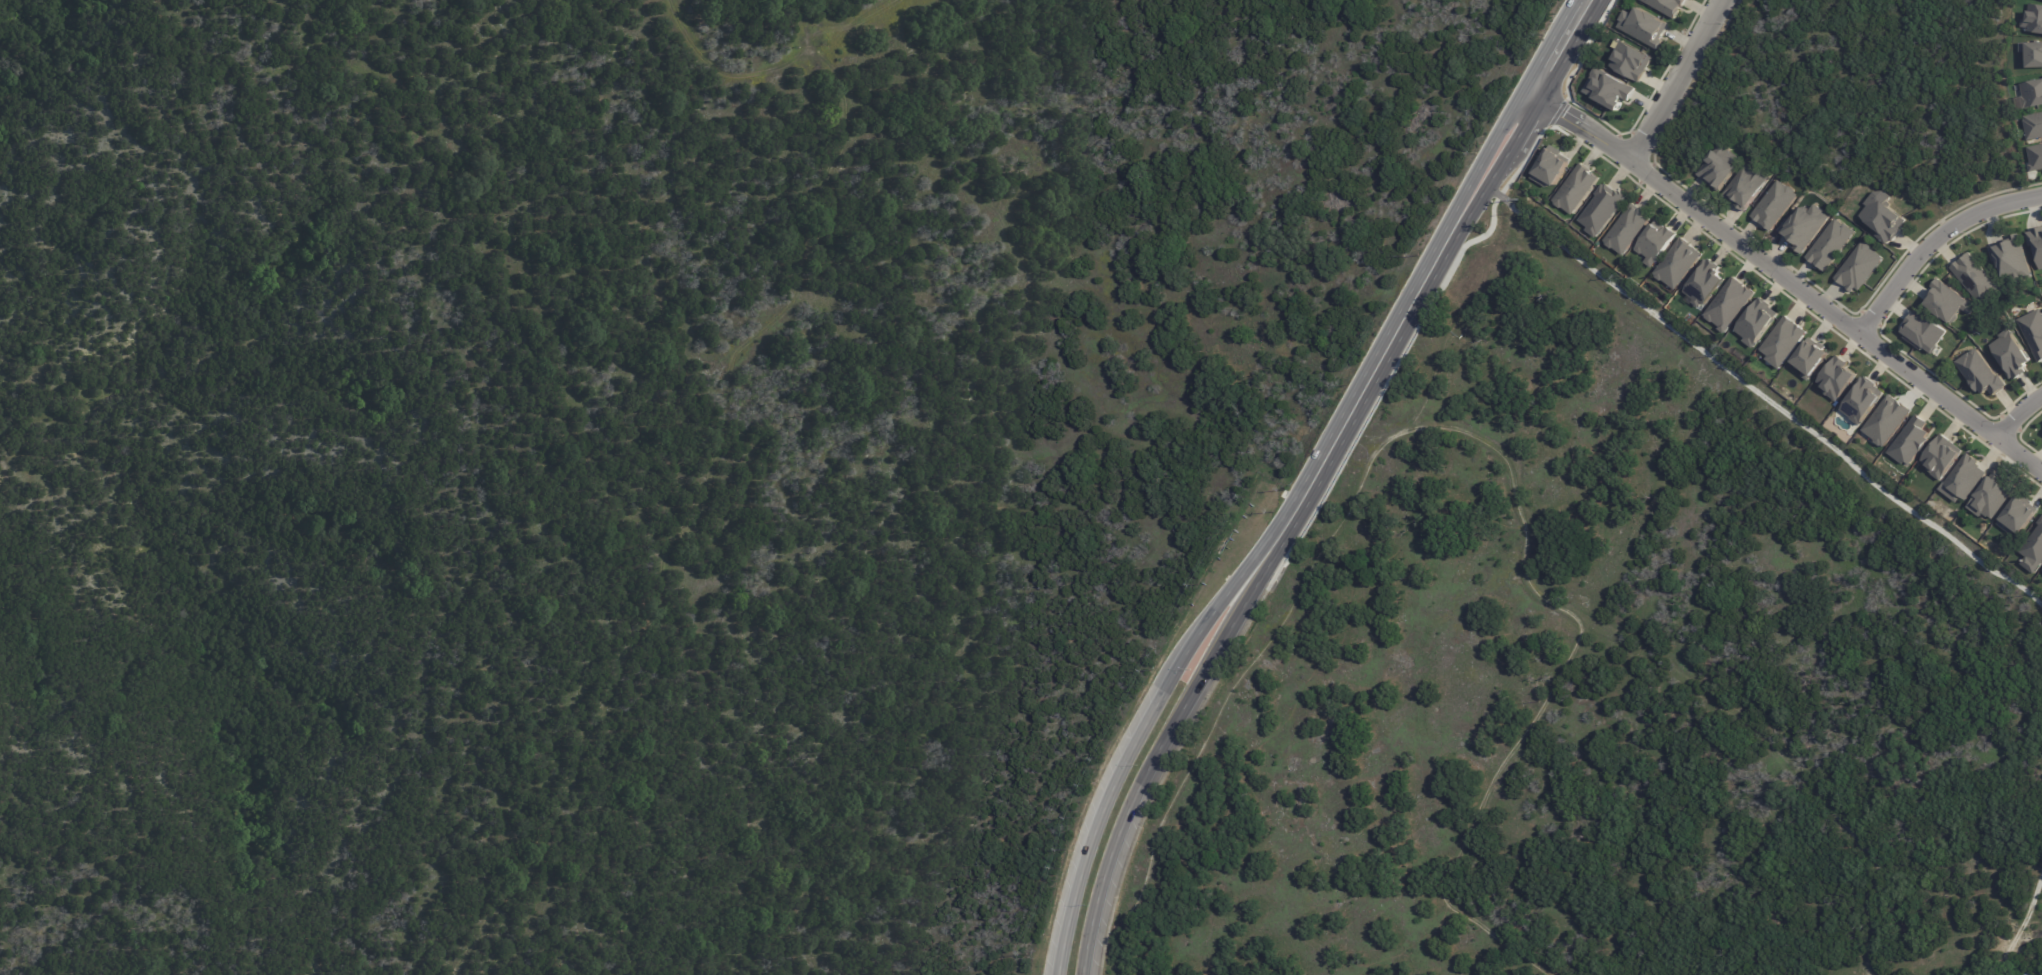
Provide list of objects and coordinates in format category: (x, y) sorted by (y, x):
building: (1667, 5)
building: (2033, 18)
building: (1643, 26)
building: (2032, 53)
building: (1630, 60)
road: (1677, 80)
building: (1608, 88)
building: (2032, 93)
building: (2033, 125)
building: (2035, 156)
building: (1551, 166)
building: (1719, 167)
building: (1747, 186)
building: (1575, 188)
building: (1774, 204)
building: (1602, 209)
building: (1882, 215)
building: (1804, 227)
building: (1626, 228)
road: (1934, 240)
building: (2036, 241)
building: (1655, 242)
building: (1830, 244)
road: (1452, 245)
building: (2012, 257)
building: (1678, 262)
building: (1859, 267)
road: (1784, 275)
building: (1977, 278)
building: (1705, 282)
building: (1948, 301)
building: (1729, 303)
building: (1756, 321)
building: (1923, 331)
building: (2033, 331)
building: (1783, 341)
building: (2011, 354)
building: (1810, 357)
building: (1980, 372)
building: (1836, 377)
road: (1764, 391)
building: (1862, 399)
road: (2019, 415)
building: (1886, 420)
road: (1457, 428)
building: (1911, 440)
building: (1941, 456)
building: (1963, 479)
road: (1301, 482)
building: (1990, 498)
building: (2018, 514)
building: (2033, 549)
park: (1426, 632)
road: (1173, 724)
road: (2022, 928)
building: (2031, 971)

